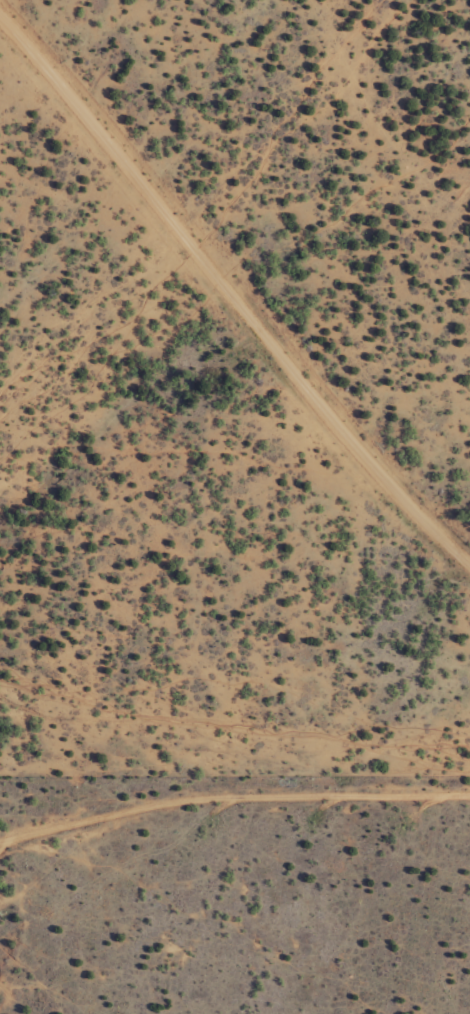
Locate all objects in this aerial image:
road: (222, 296)
road: (232, 795)

